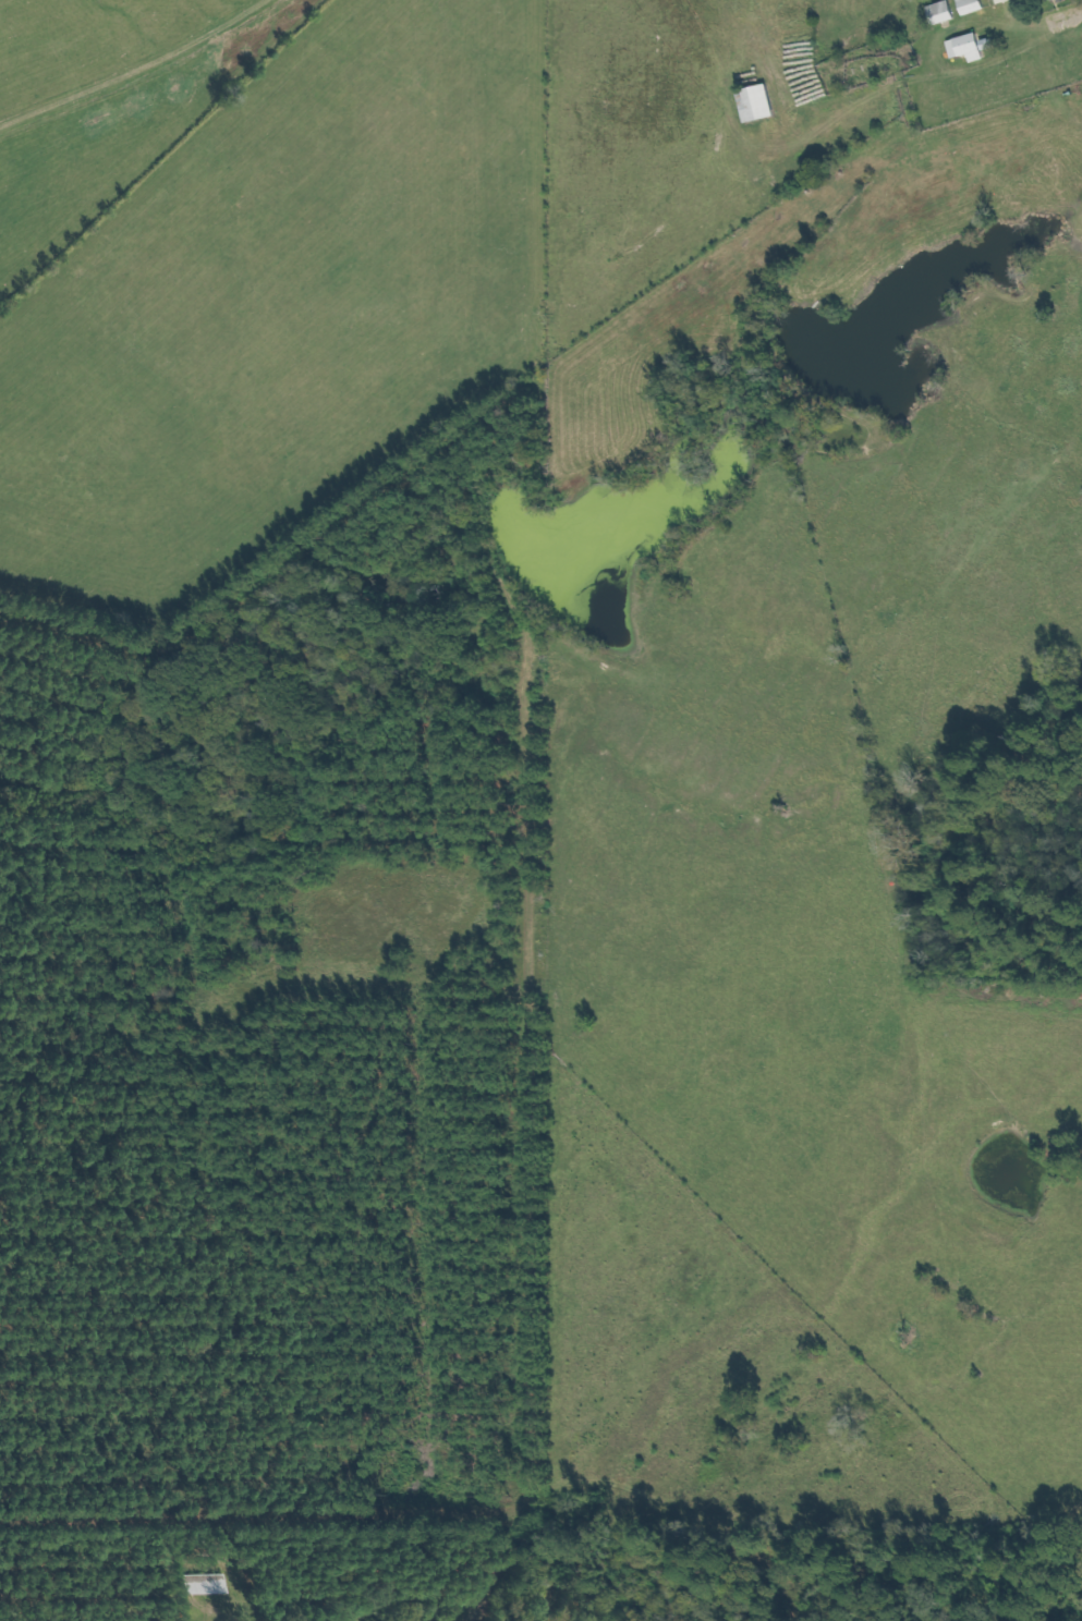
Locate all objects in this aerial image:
building: (1057, 0)
building: (975, 7)
building: (973, 48)
building: (762, 105)
building: (216, 1584)

